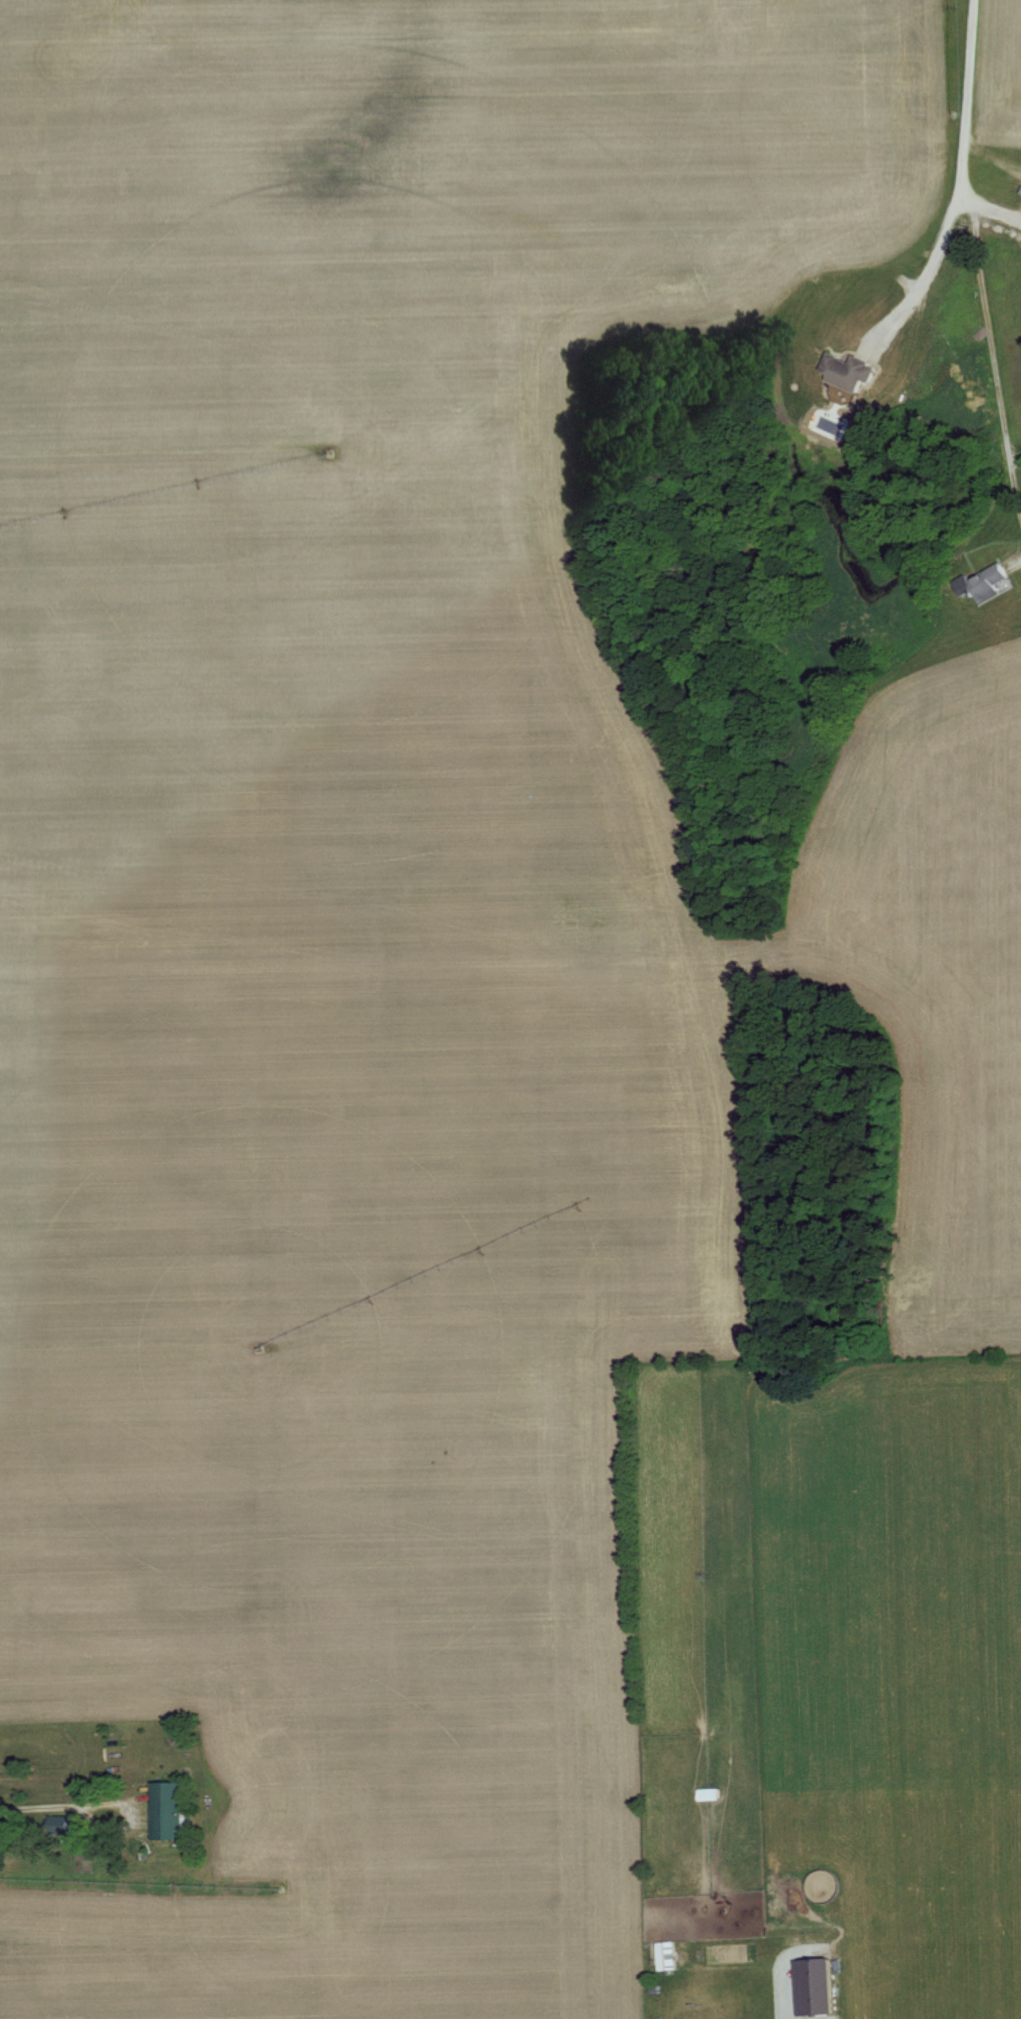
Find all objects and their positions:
road: (955, 180)
road: (987, 205)
road: (986, 367)
building: (846, 370)
building: (988, 581)
building: (707, 1791)
road: (38, 1805)
building: (165, 1808)
building: (664, 1953)

